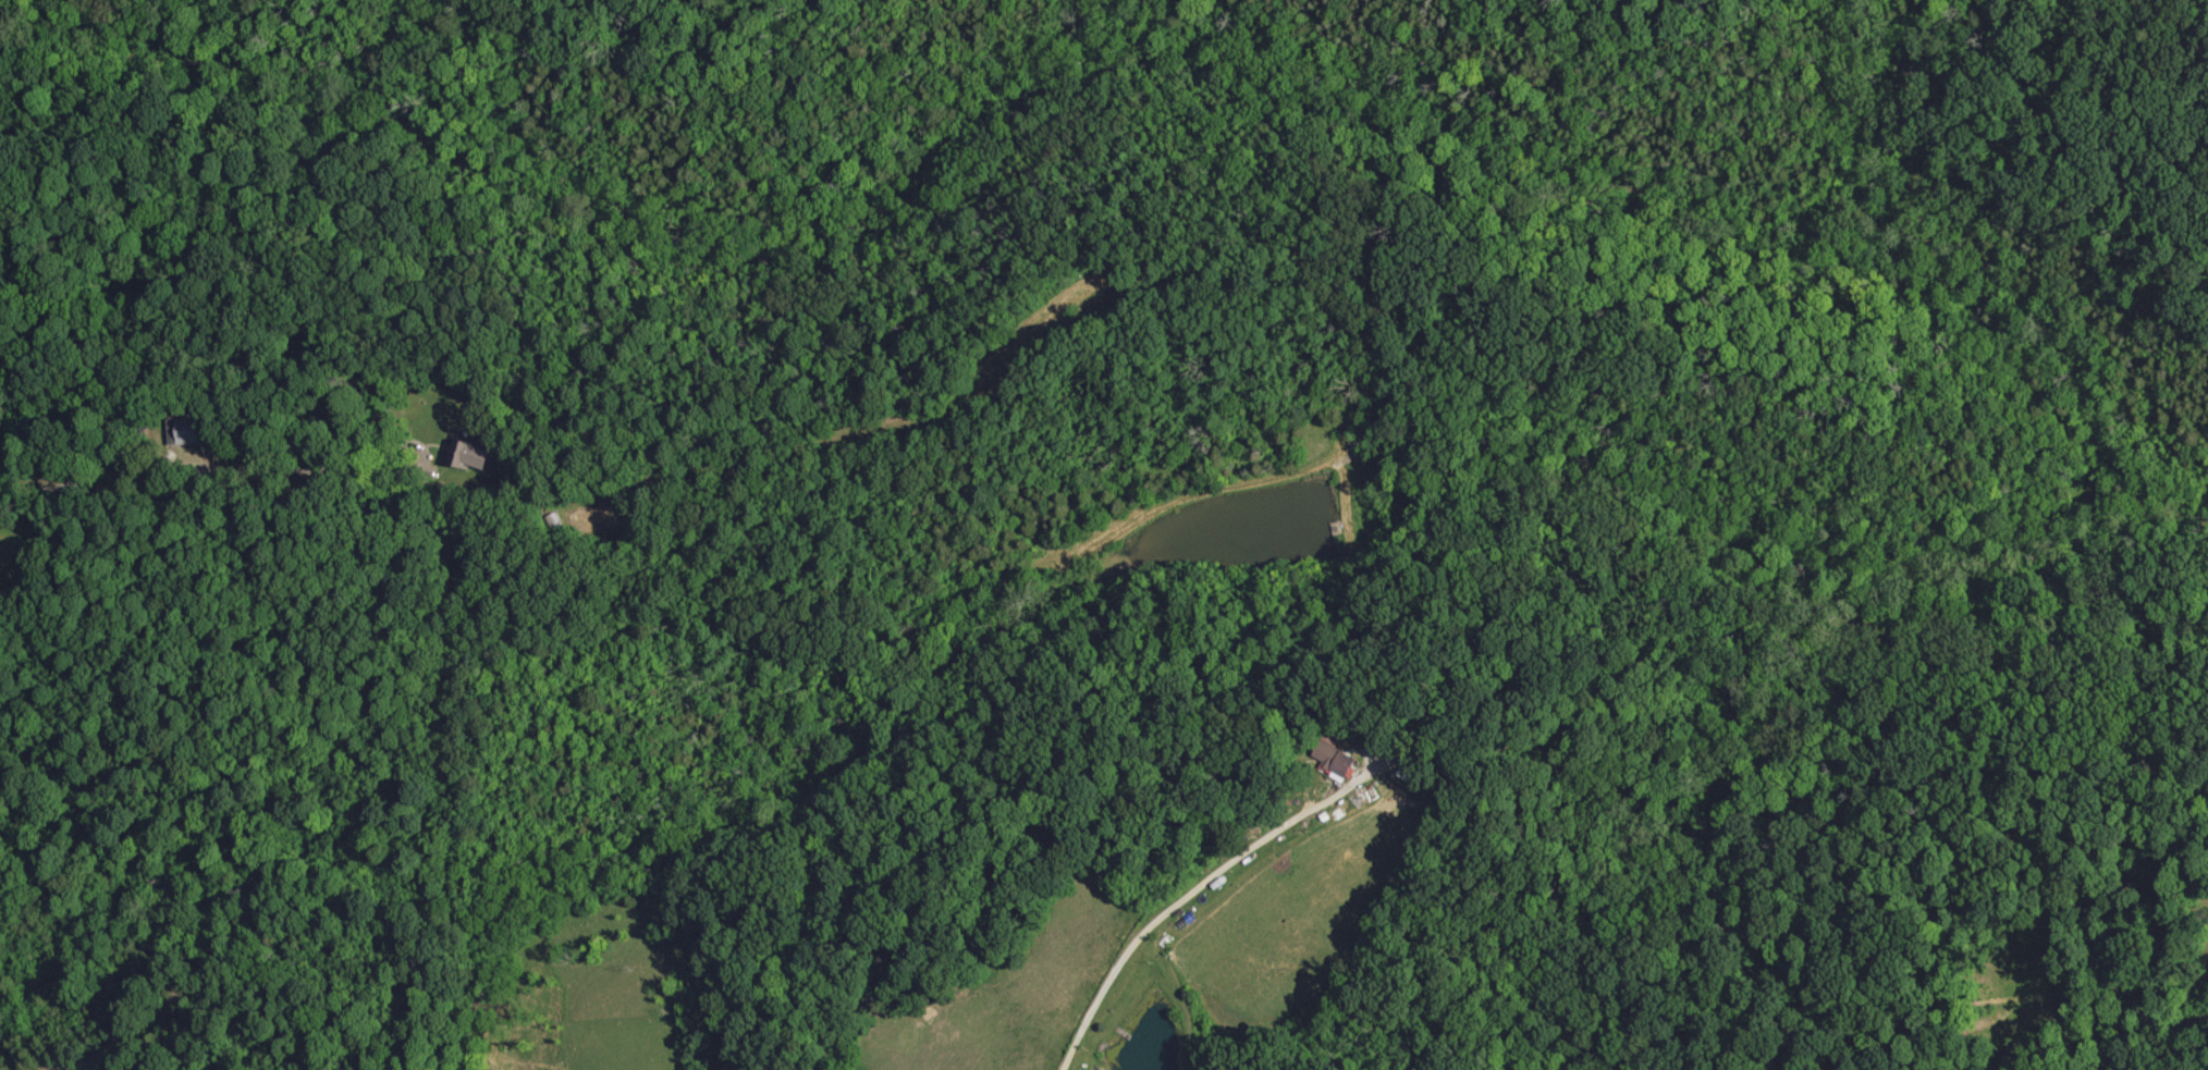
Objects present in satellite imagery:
building: (469, 455)
road: (191, 469)
building: (1335, 758)
road: (1182, 993)
road: (1091, 1001)

